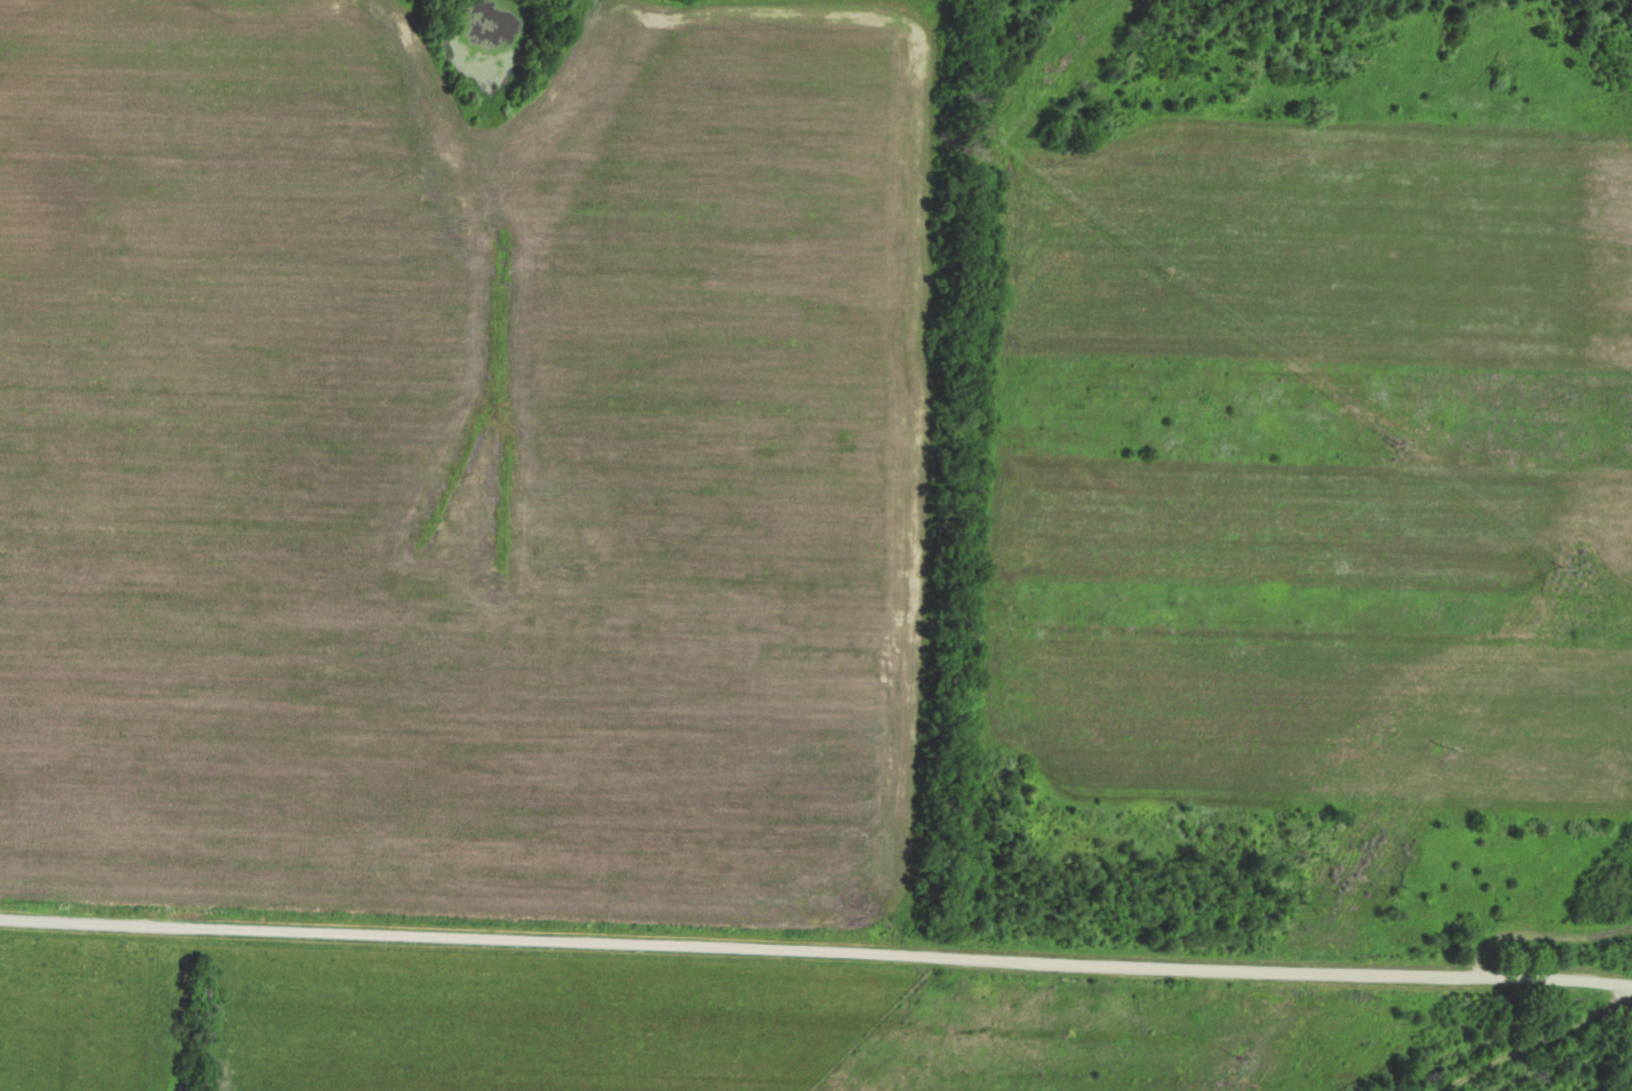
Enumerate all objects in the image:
road: (815, 924)

